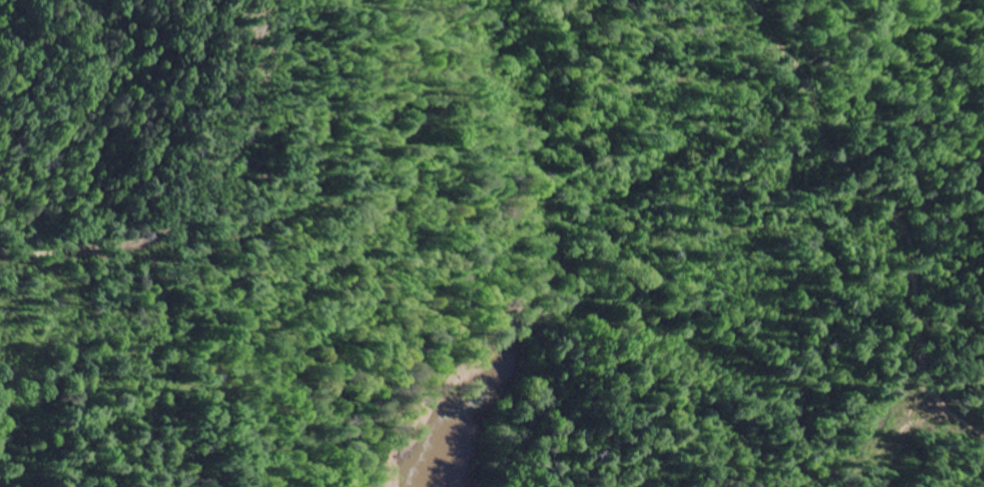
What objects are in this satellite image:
road: (135, 153)
road: (917, 193)

